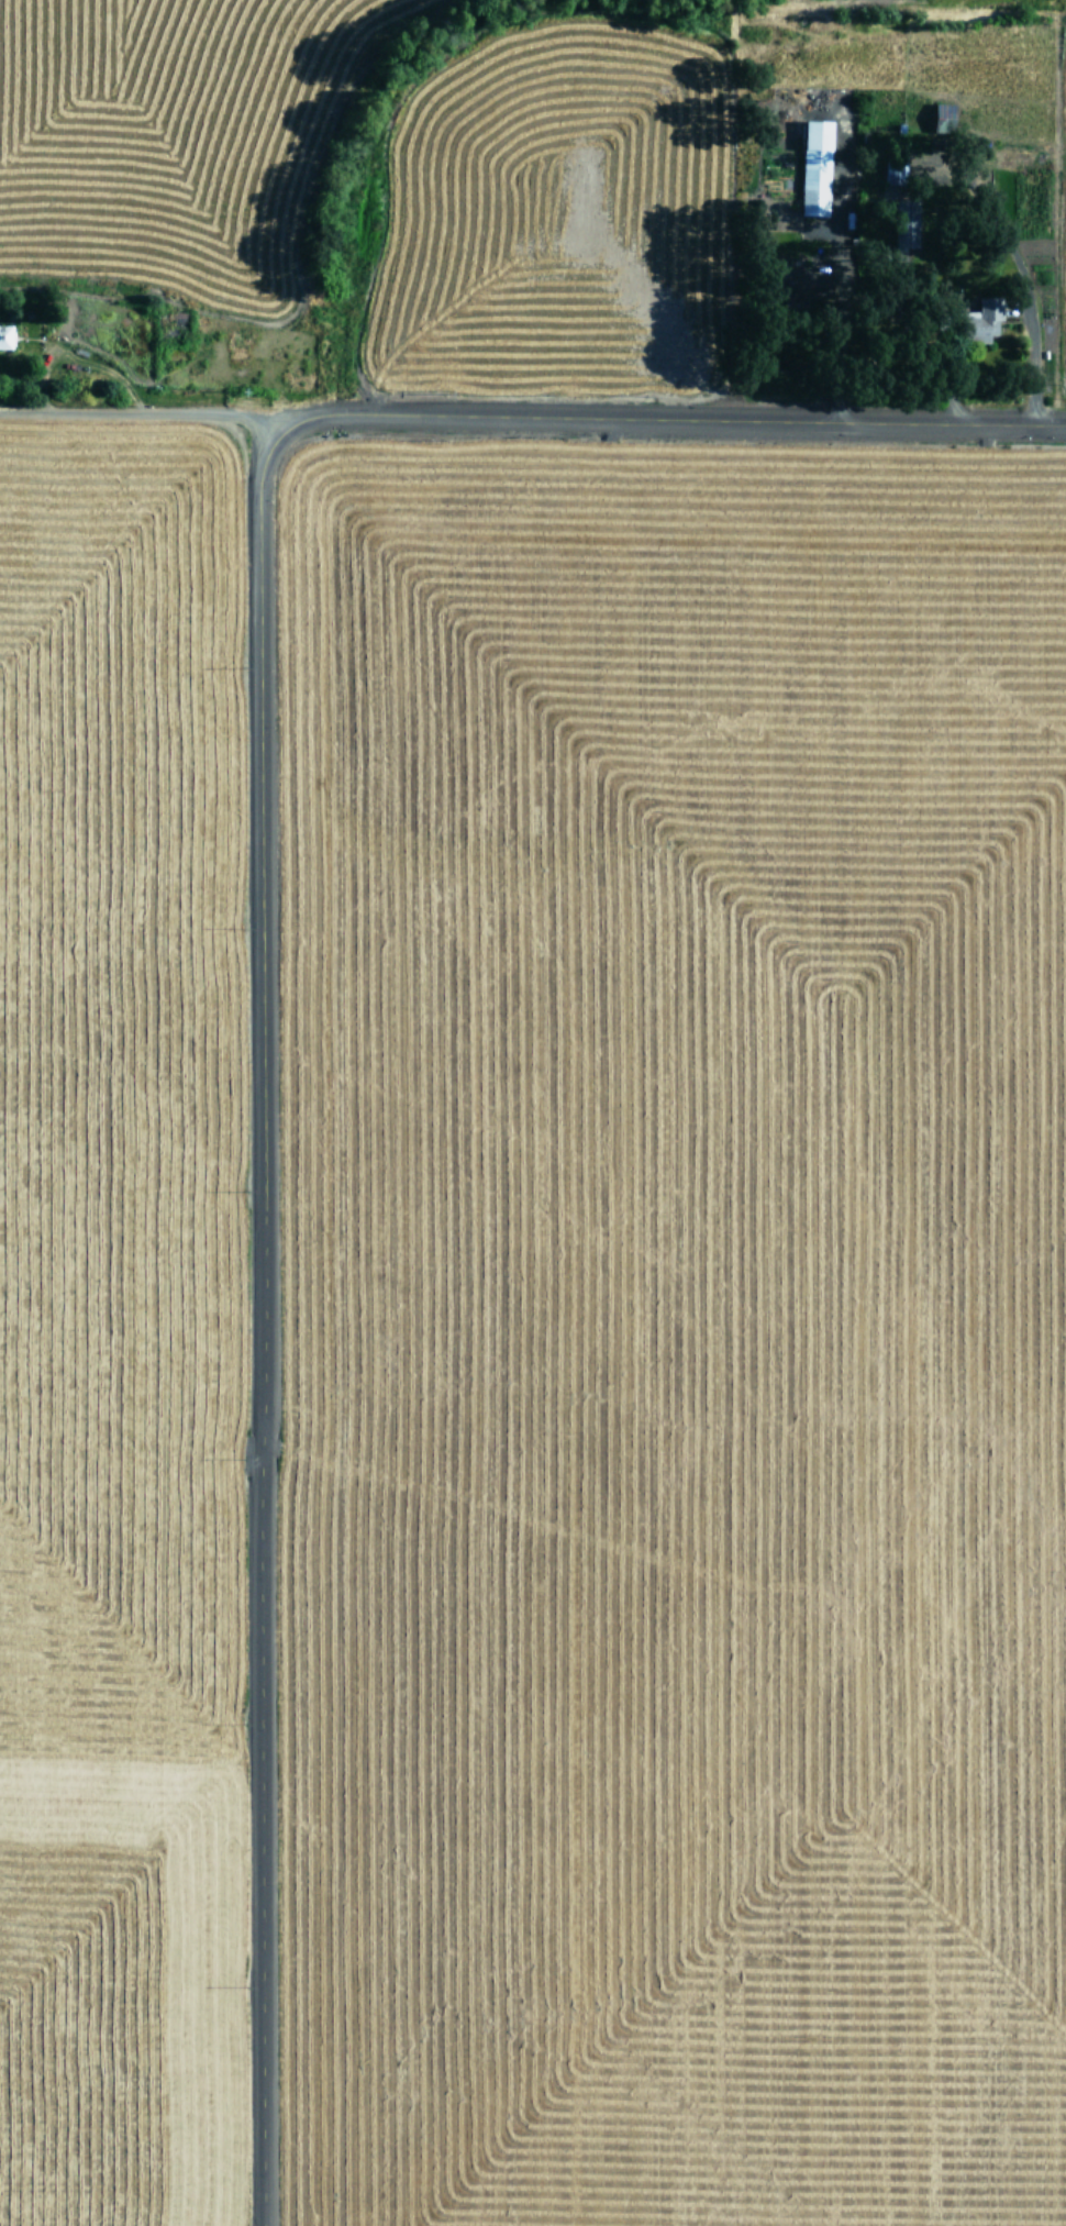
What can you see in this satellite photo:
building: (817, 168)
building: (895, 174)
building: (989, 317)
building: (5, 336)
road: (129, 418)
road: (662, 420)
road: (275, 442)
crop: (116, 1313)
road: (258, 1321)
crop: (680, 1328)

